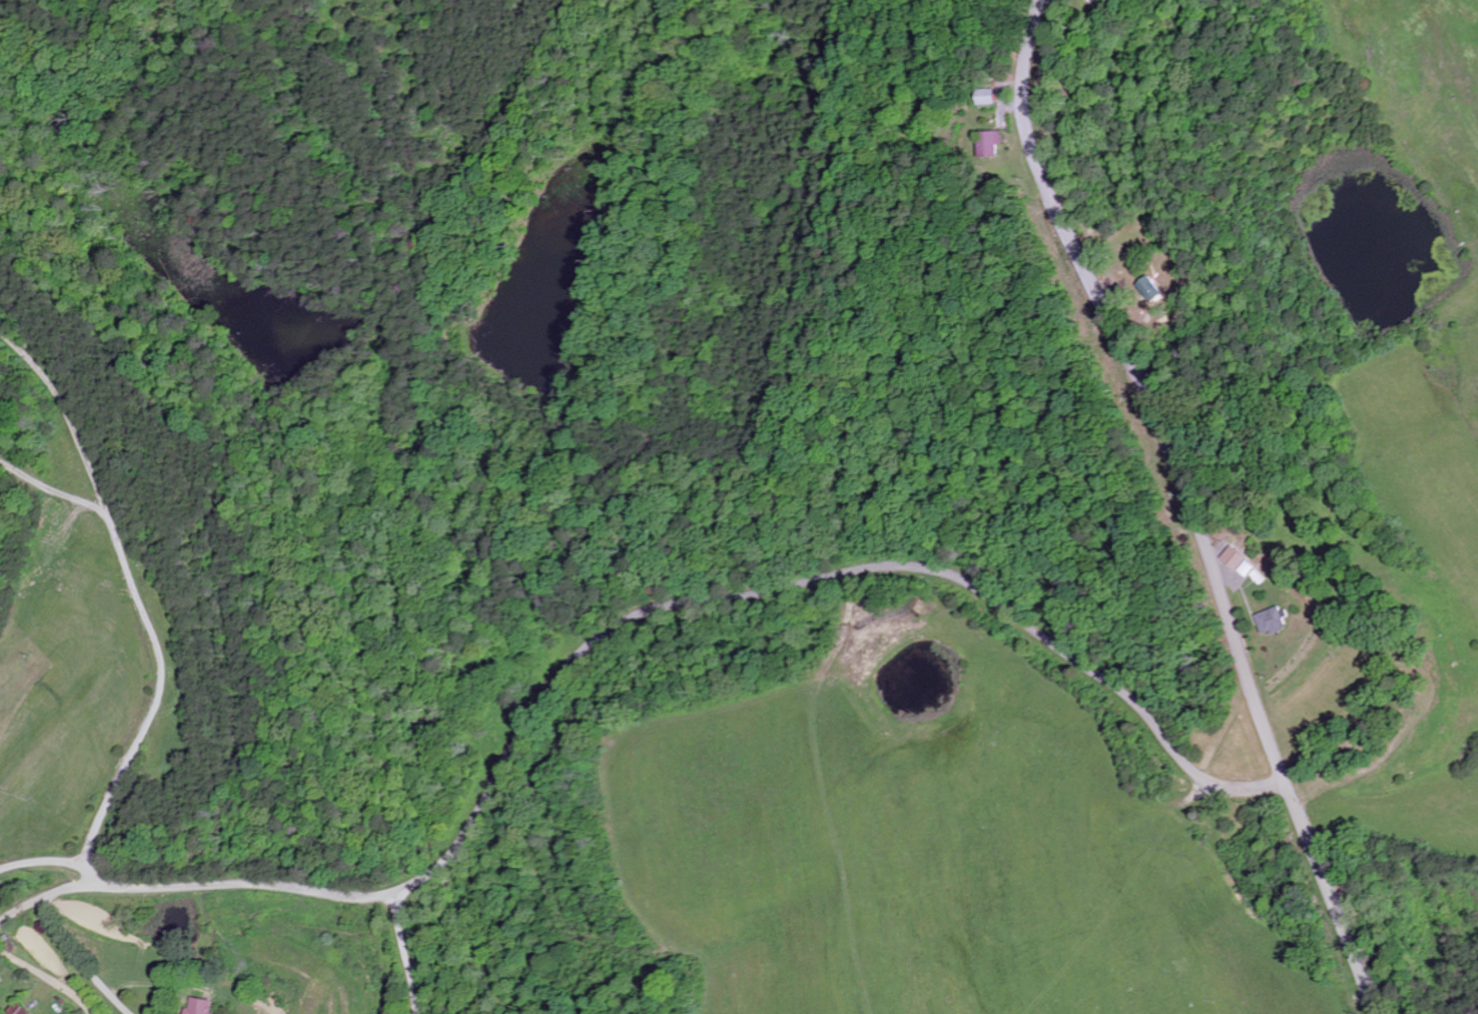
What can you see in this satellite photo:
building: (989, 144)
building: (1149, 290)
road: (1193, 503)
building: (1234, 559)
building: (1247, 570)
road: (617, 621)
building: (1271, 622)
road: (157, 643)
road: (403, 952)
road: (79, 962)
road: (48, 977)
building: (206, 1007)

